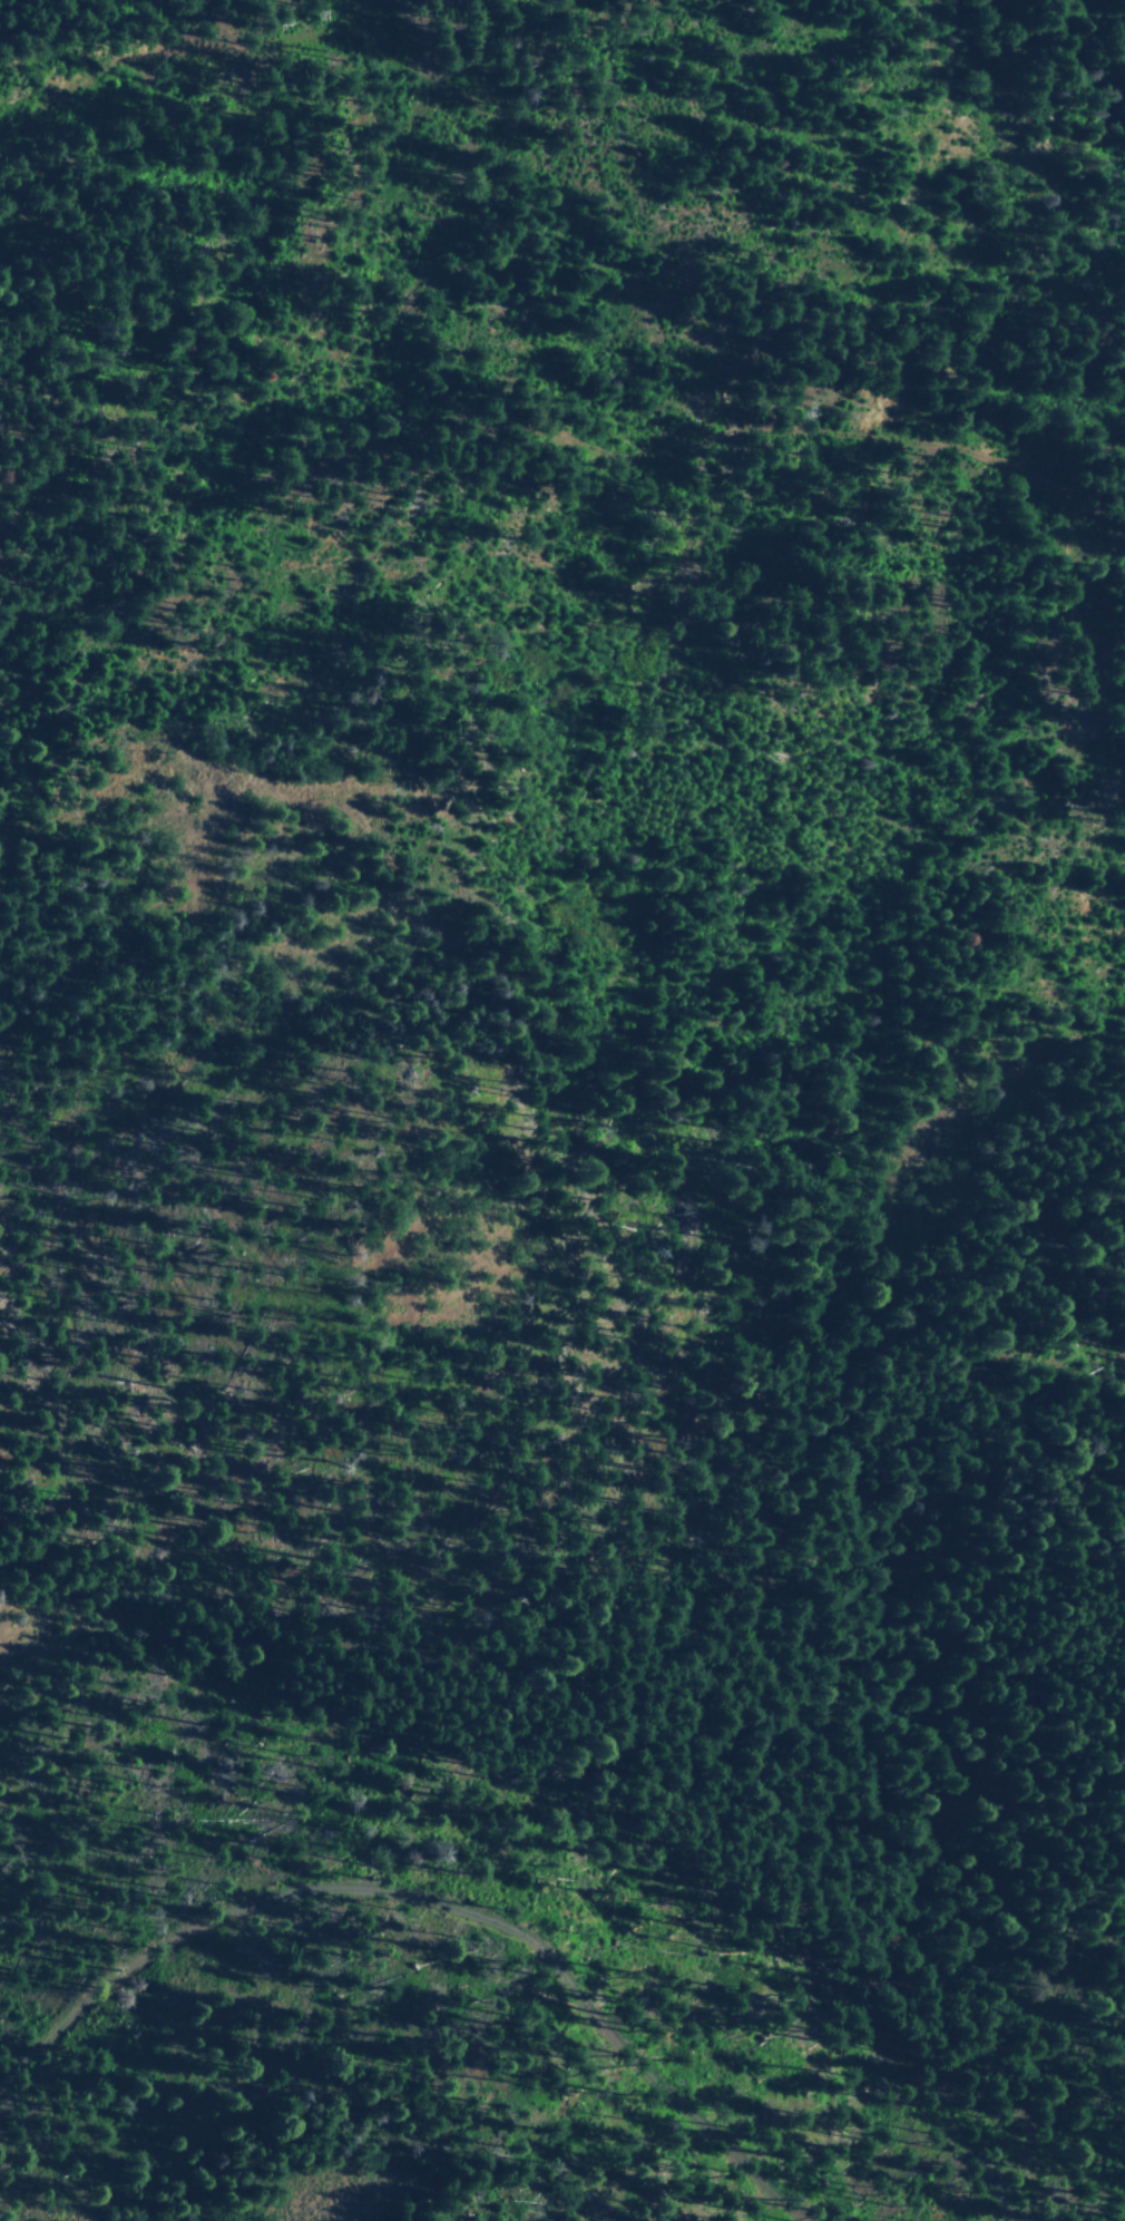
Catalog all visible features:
road: (448, 1902)

